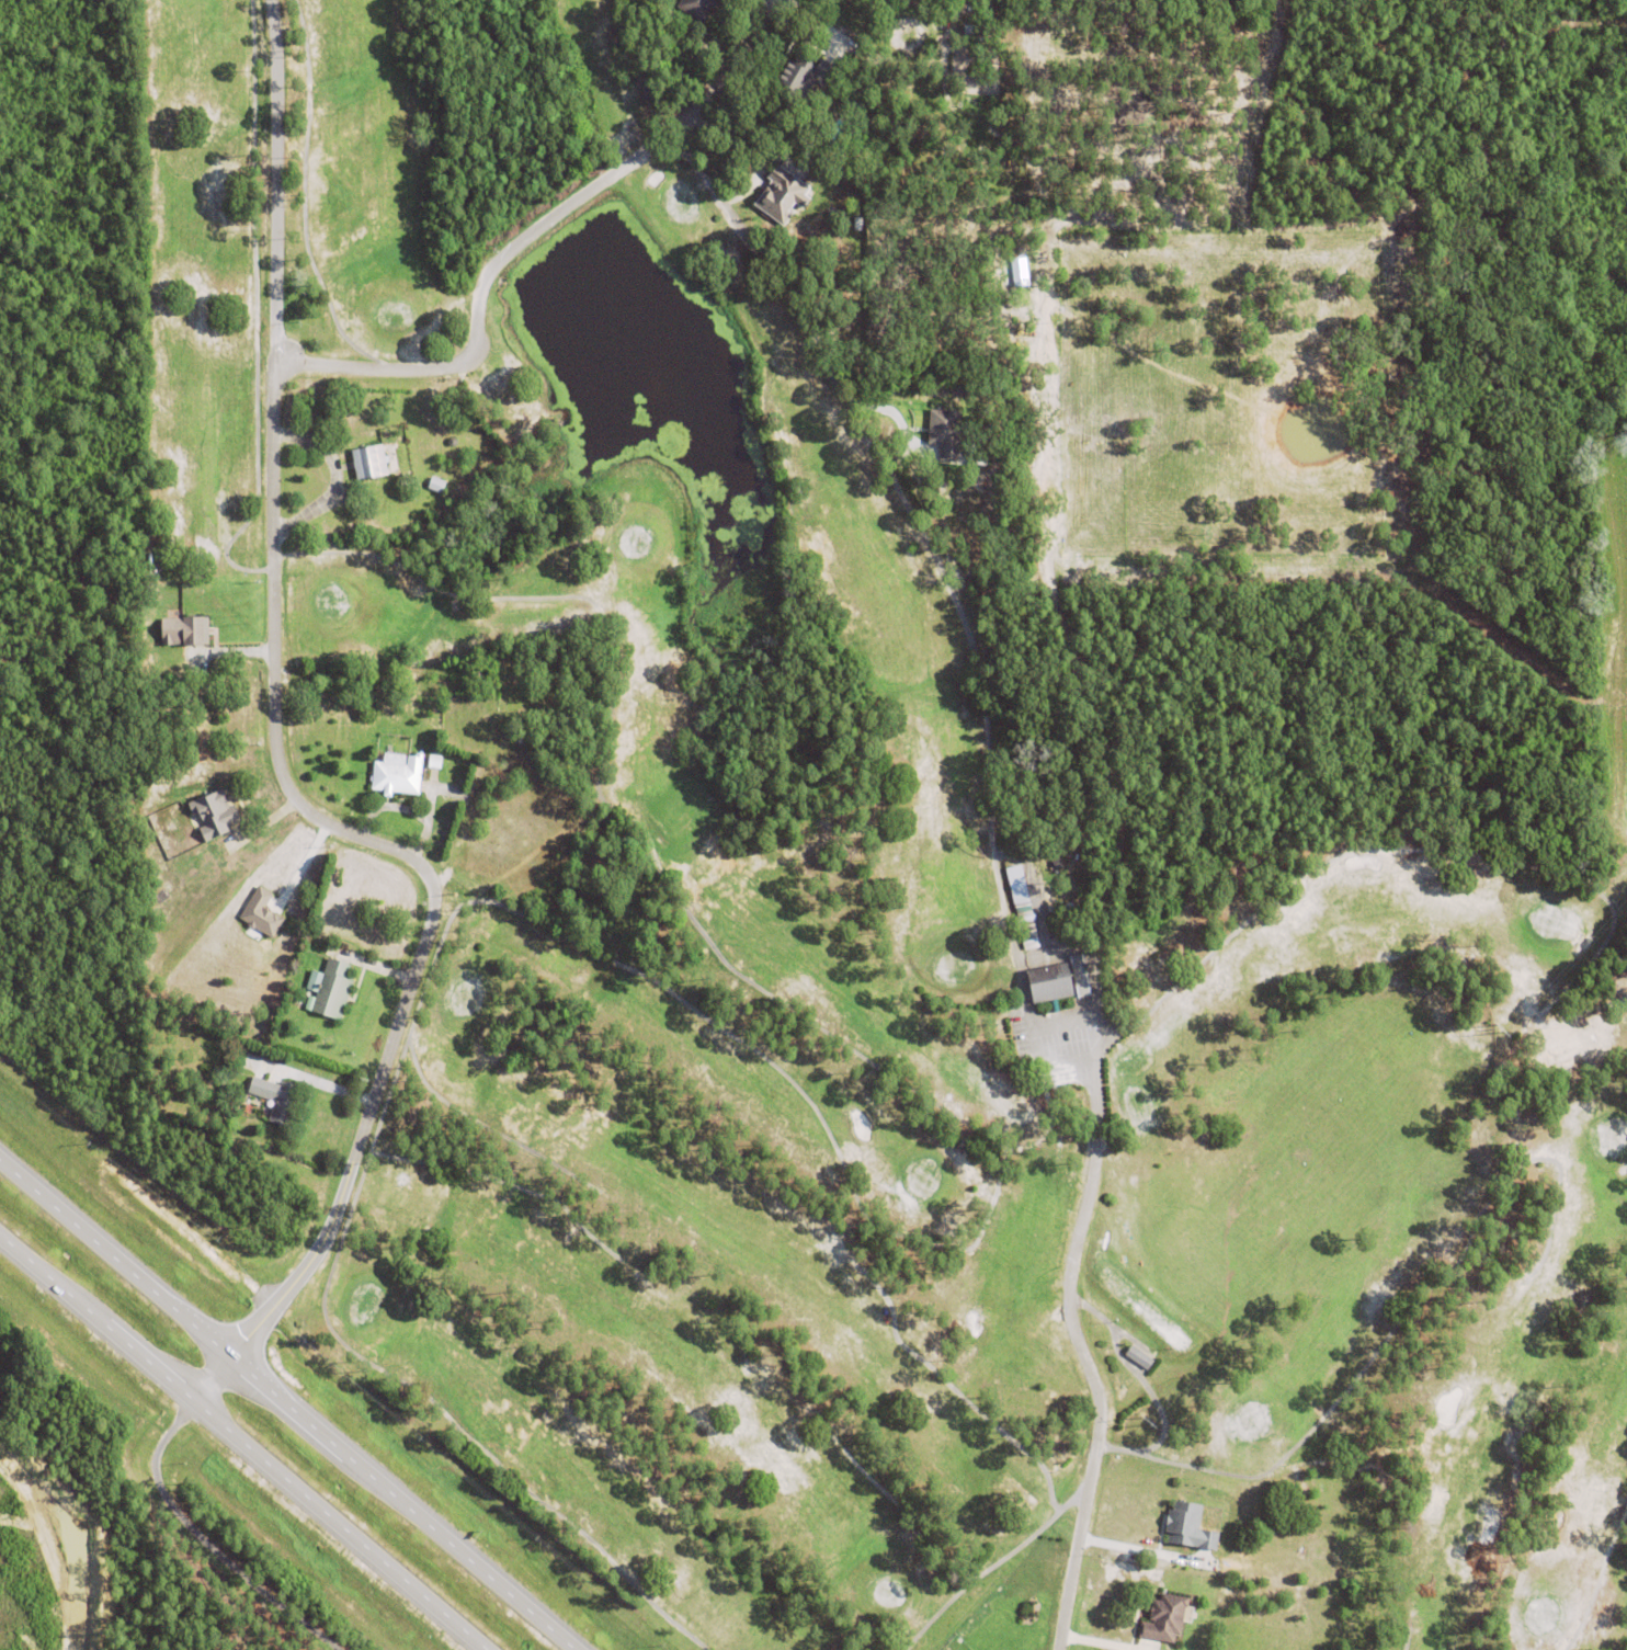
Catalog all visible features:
building: (698, 10)
building: (971, 68)
building: (801, 80)
road: (755, 150)
road: (274, 182)
building: (782, 200)
road: (718, 204)
building: (1019, 268)
building: (944, 432)
building: (368, 458)
building: (435, 483)
road: (271, 615)
building: (185, 628)
building: (434, 762)
building: (398, 775)
building: (214, 816)
building: (1057, 864)
building: (1059, 897)
building: (1073, 912)
building: (261, 913)
building: (1024, 913)
park: (842, 925)
building: (1028, 938)
building: (1079, 976)
building: (1049, 986)
building: (332, 991)
parking lot: (1059, 1031)
building: (250, 1057)
building: (277, 1101)
road: (1072, 1318)
building: (1138, 1358)
road: (287, 1406)
road: (240, 1443)
building: (1188, 1528)
road: (204, 1544)
building: (1164, 1620)

